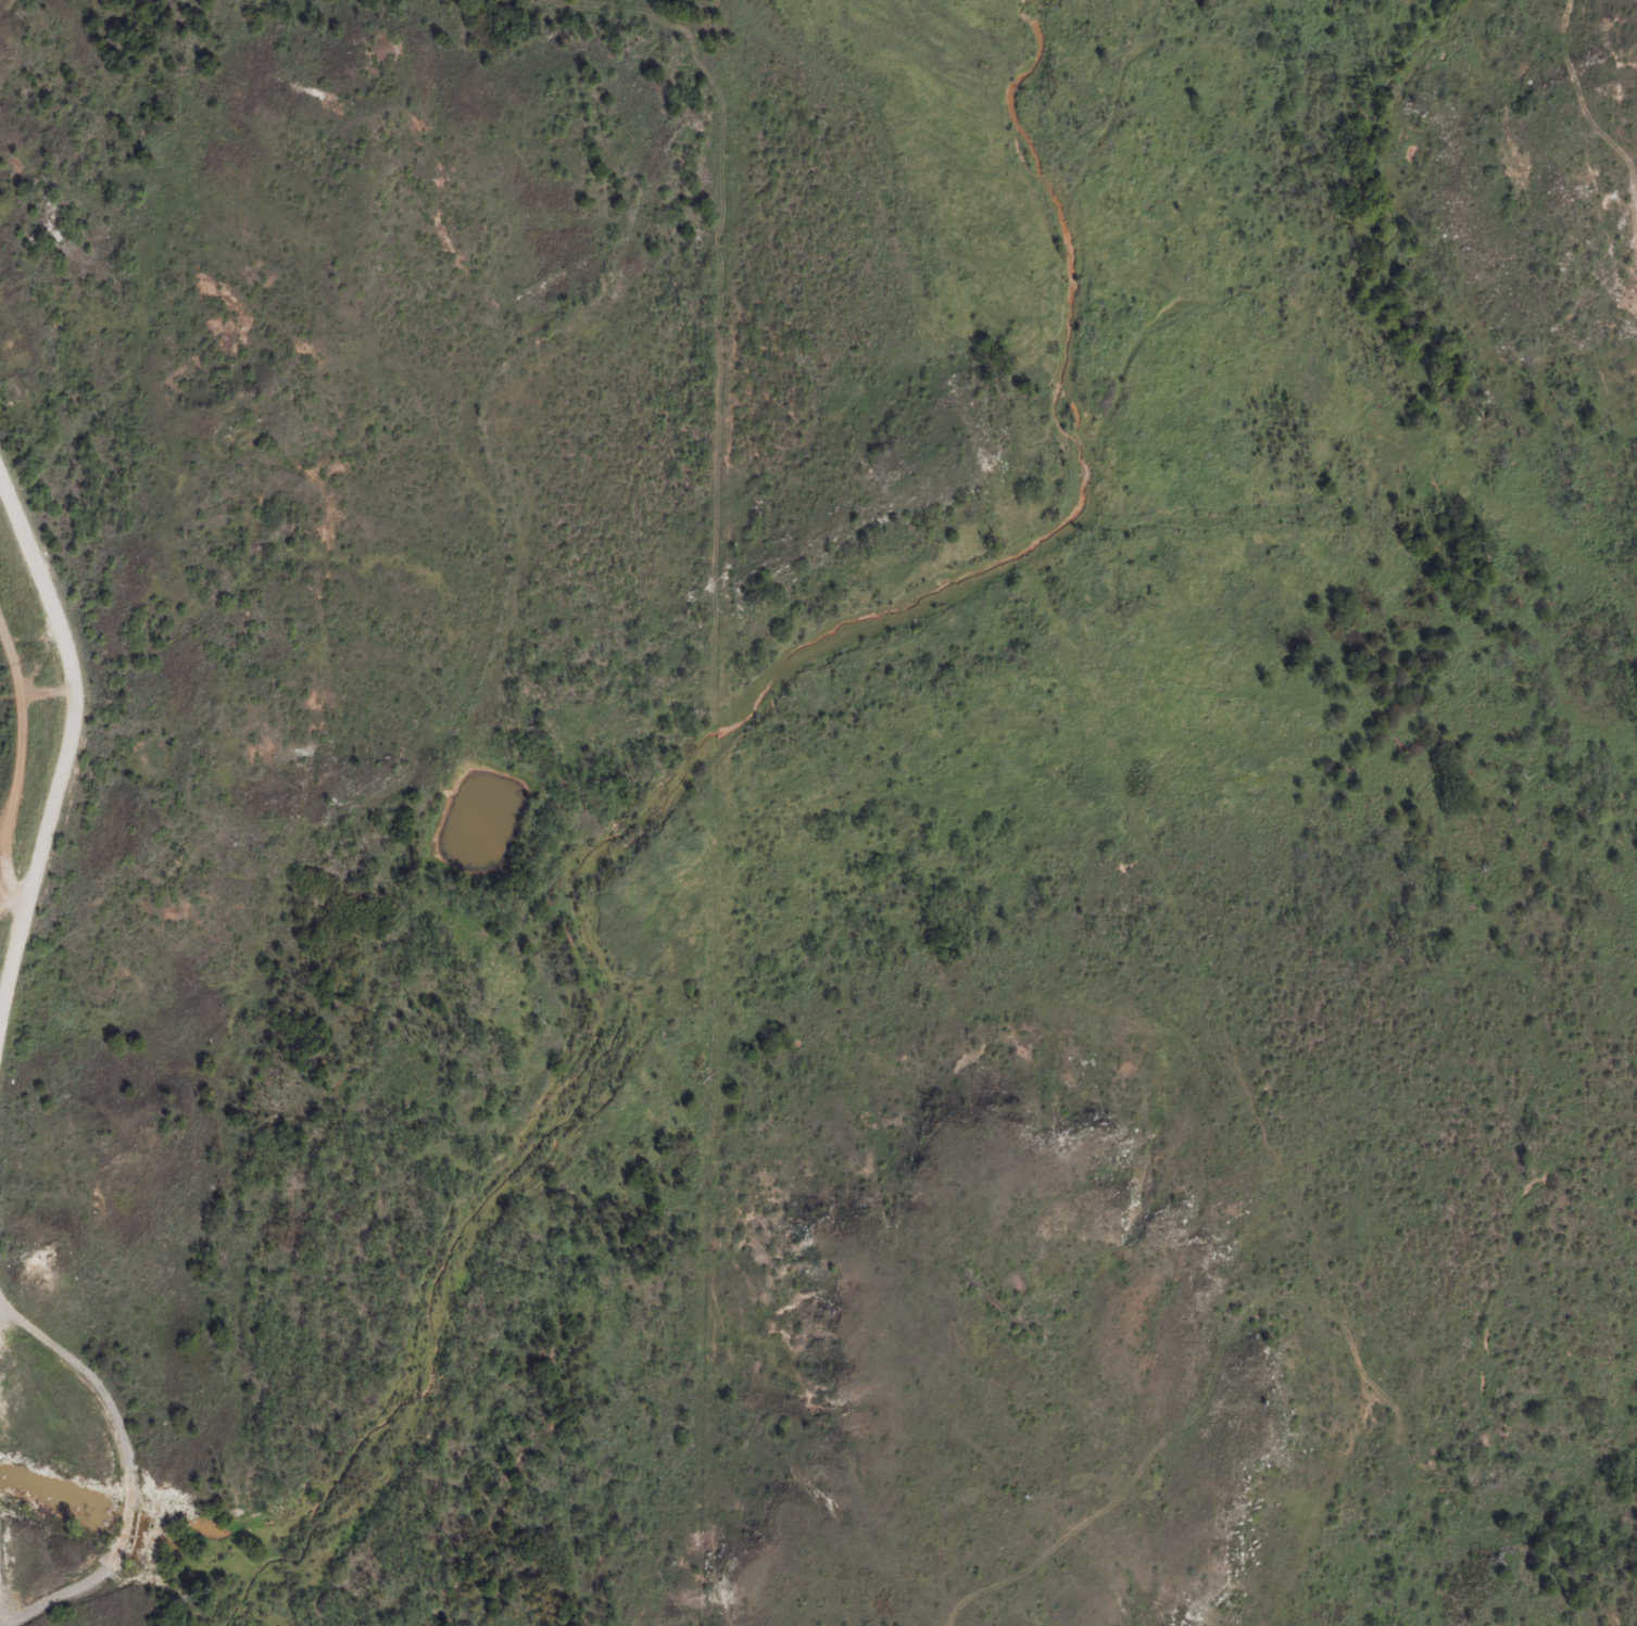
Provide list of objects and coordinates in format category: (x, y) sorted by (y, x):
road: (66, 749)

